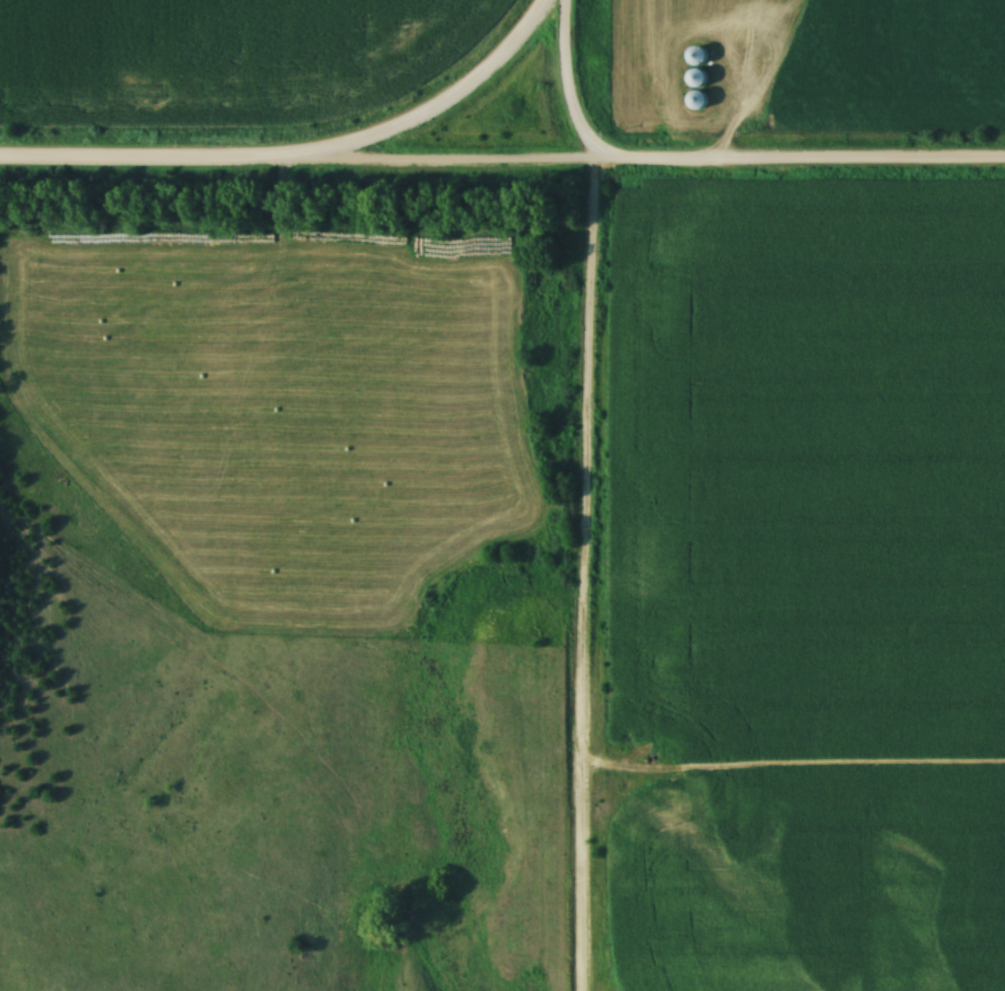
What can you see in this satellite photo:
building: (694, 56)
building: (694, 77)
building: (695, 99)
road: (448, 102)
road: (661, 163)
road: (159, 164)
road: (584, 493)

